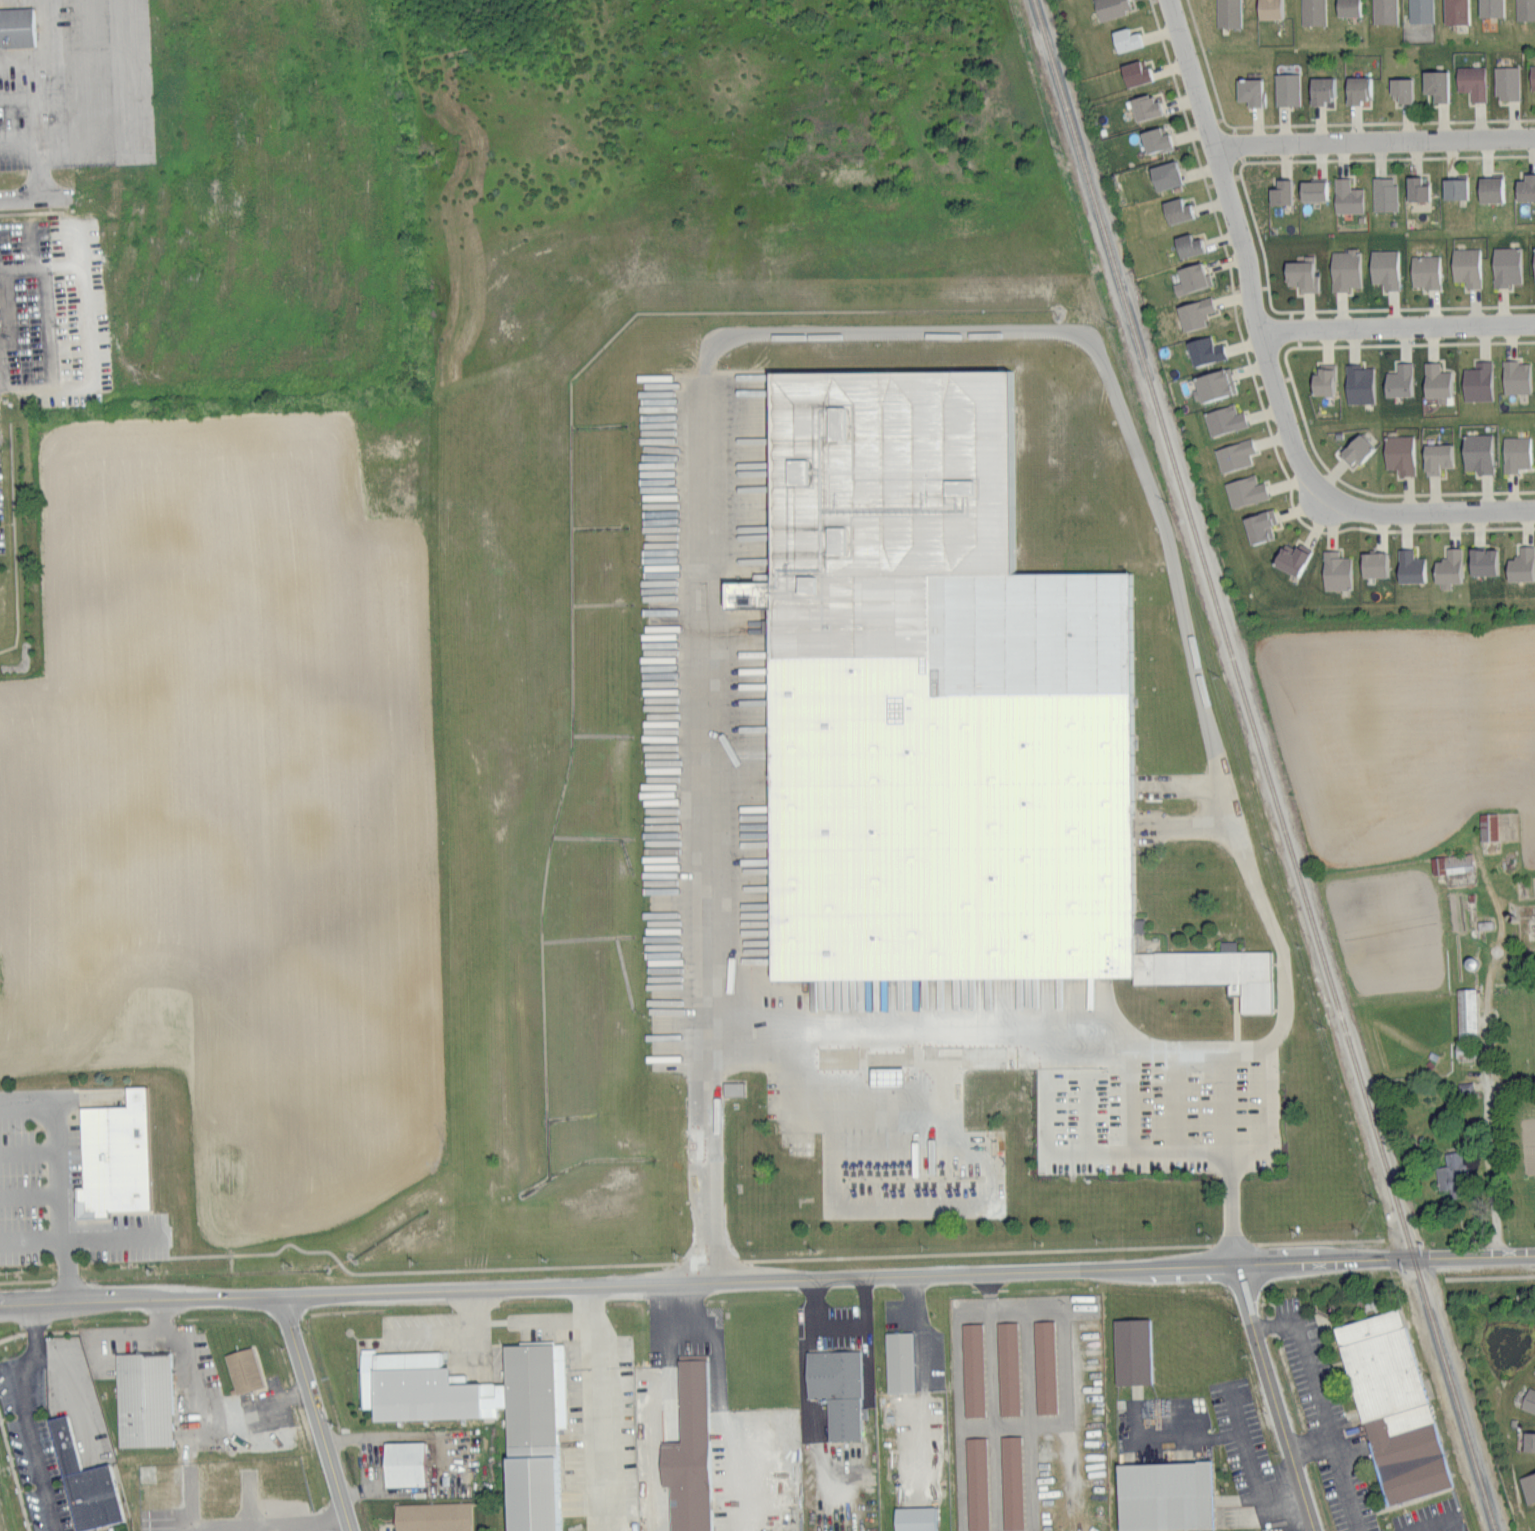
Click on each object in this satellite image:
building: (1110, 7)
building: (1347, 8)
building: (1490, 8)
building: (1268, 9)
building: (1525, 10)
building: (1383, 11)
building: (1420, 11)
building: (1455, 11)
building: (1312, 12)
building: (1227, 13)
building: (16, 26)
building: (1125, 39)
road: (1207, 62)
building: (1134, 72)
building: (1531, 77)
building: (1471, 82)
building: (1506, 83)
building: (1435, 85)
building: (1286, 89)
building: (1356, 89)
building: (1401, 89)
building: (1320, 90)
building: (1248, 91)
building: (1144, 107)
road: (1385, 122)
road: (107, 123)
road: (1230, 125)
building: (1155, 139)
road: (25, 142)
road: (1373, 142)
road: (1513, 154)
road: (1366, 158)
road: (1241, 171)
building: (1164, 174)
building: (1454, 186)
building: (1525, 186)
building: (1415, 187)
building: (1489, 187)
building: (1312, 188)
building: (1280, 190)
building: (1383, 192)
building: (1346, 195)
road: (37, 199)
building: (1176, 209)
road: (1258, 233)
building: (1187, 243)
road: (1241, 246)
building: (1534, 263)
building: (1465, 265)
building: (1505, 265)
building: (1383, 267)
building: (1344, 268)
building: (1424, 270)
building: (1300, 274)
building: (1190, 277)
road: (1413, 307)
road: (1274, 308)
road: (5, 310)
building: (1193, 311)
road: (1398, 326)
road: (920, 329)
road: (1417, 343)
building: (1204, 349)
road: (1286, 357)
road: (1254, 375)
building: (1515, 376)
building: (1322, 379)
building: (1399, 379)
building: (1477, 380)
building: (1435, 381)
building: (1214, 382)
building: (1358, 383)
building: (1223, 418)
building: (1355, 448)
building: (1398, 452)
building: (1477, 452)
building: (1515, 452)
building: (1233, 454)
building: (1436, 456)
building: (1244, 489)
road: (1378, 494)
building: (656, 511)
road: (1424, 511)
building: (1258, 524)
building: (1290, 556)
building: (1483, 560)
building: (1373, 563)
building: (1521, 563)
building: (1409, 565)
building: (1447, 567)
building: (1335, 570)
building: (945, 706)
parking lot: (712, 756)
railway: (1264, 766)
building: (1487, 825)
building: (1450, 863)
building: (1466, 1013)
road: (799, 1047)
road: (1125, 1065)
building: (884, 1075)
building: (732, 1087)
road: (1486, 1091)
road: (86, 1095)
road: (28, 1150)
building: (113, 1155)
road: (57, 1171)
building: (1451, 1174)
road: (28, 1193)
road: (109, 1238)
road: (29, 1240)
road: (1491, 1277)
road: (767, 1280)
road: (990, 1291)
road: (685, 1312)
road: (840, 1328)
road: (447, 1330)
building: (1131, 1351)
building: (898, 1361)
building: (1043, 1366)
building: (1534, 1366)
building: (1007, 1367)
building: (242, 1369)
building: (972, 1369)
road: (925, 1380)
building: (835, 1390)
road: (1273, 1397)
building: (142, 1399)
building: (1530, 1400)
road: (1068, 1402)
road: (248, 1406)
road: (960, 1406)
road: (1322, 1406)
building: (1392, 1406)
road: (808, 1413)
road: (315, 1414)
building: (485, 1414)
road: (29, 1415)
road: (187, 1415)
road: (1191, 1439)
building: (1530, 1442)
road: (1310, 1443)
building: (687, 1450)
building: (402, 1463)
road: (1255, 1470)
building: (82, 1482)
building: (1010, 1482)
building: (975, 1483)
building: (1529, 1487)
building: (1164, 1496)
building: (431, 1516)
building: (914, 1518)
road: (304, 1524)
road: (1451, 1529)

